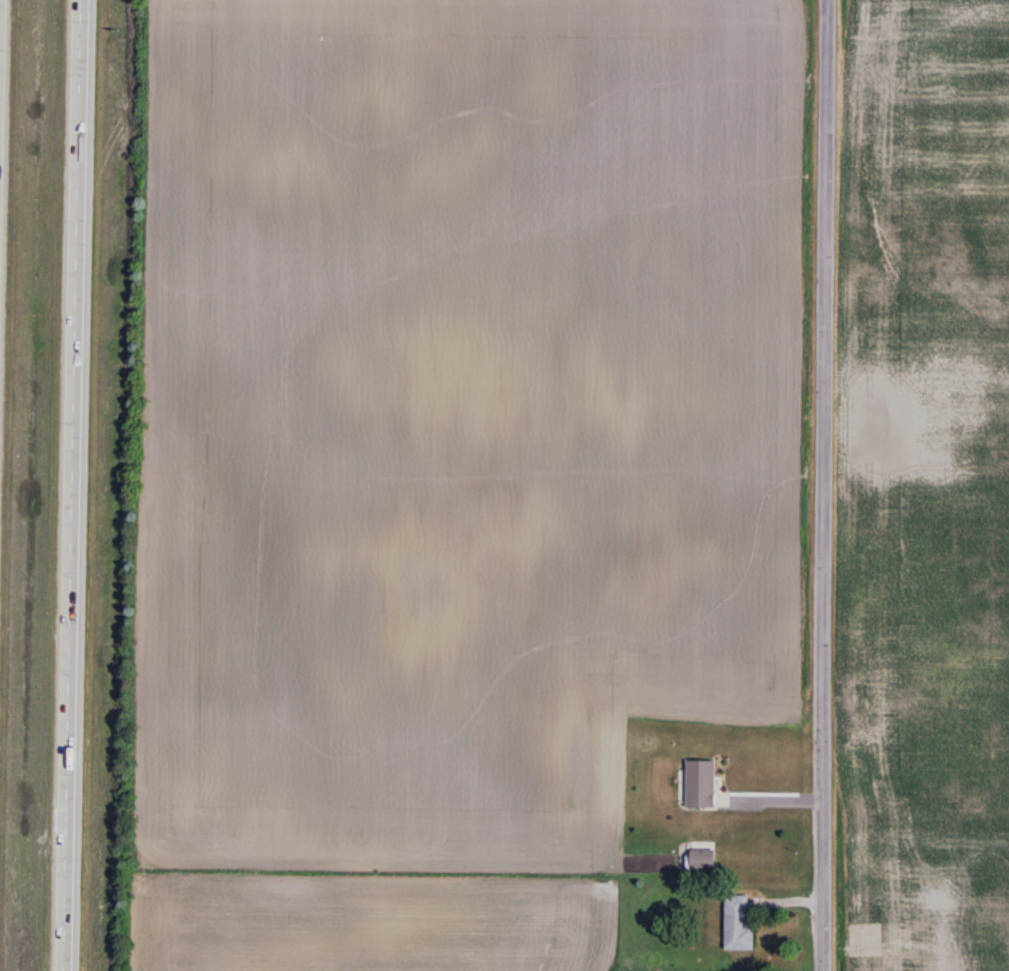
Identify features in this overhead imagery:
road: (73, 485)
road: (824, 485)
building: (701, 785)
building: (703, 860)
building: (739, 925)

